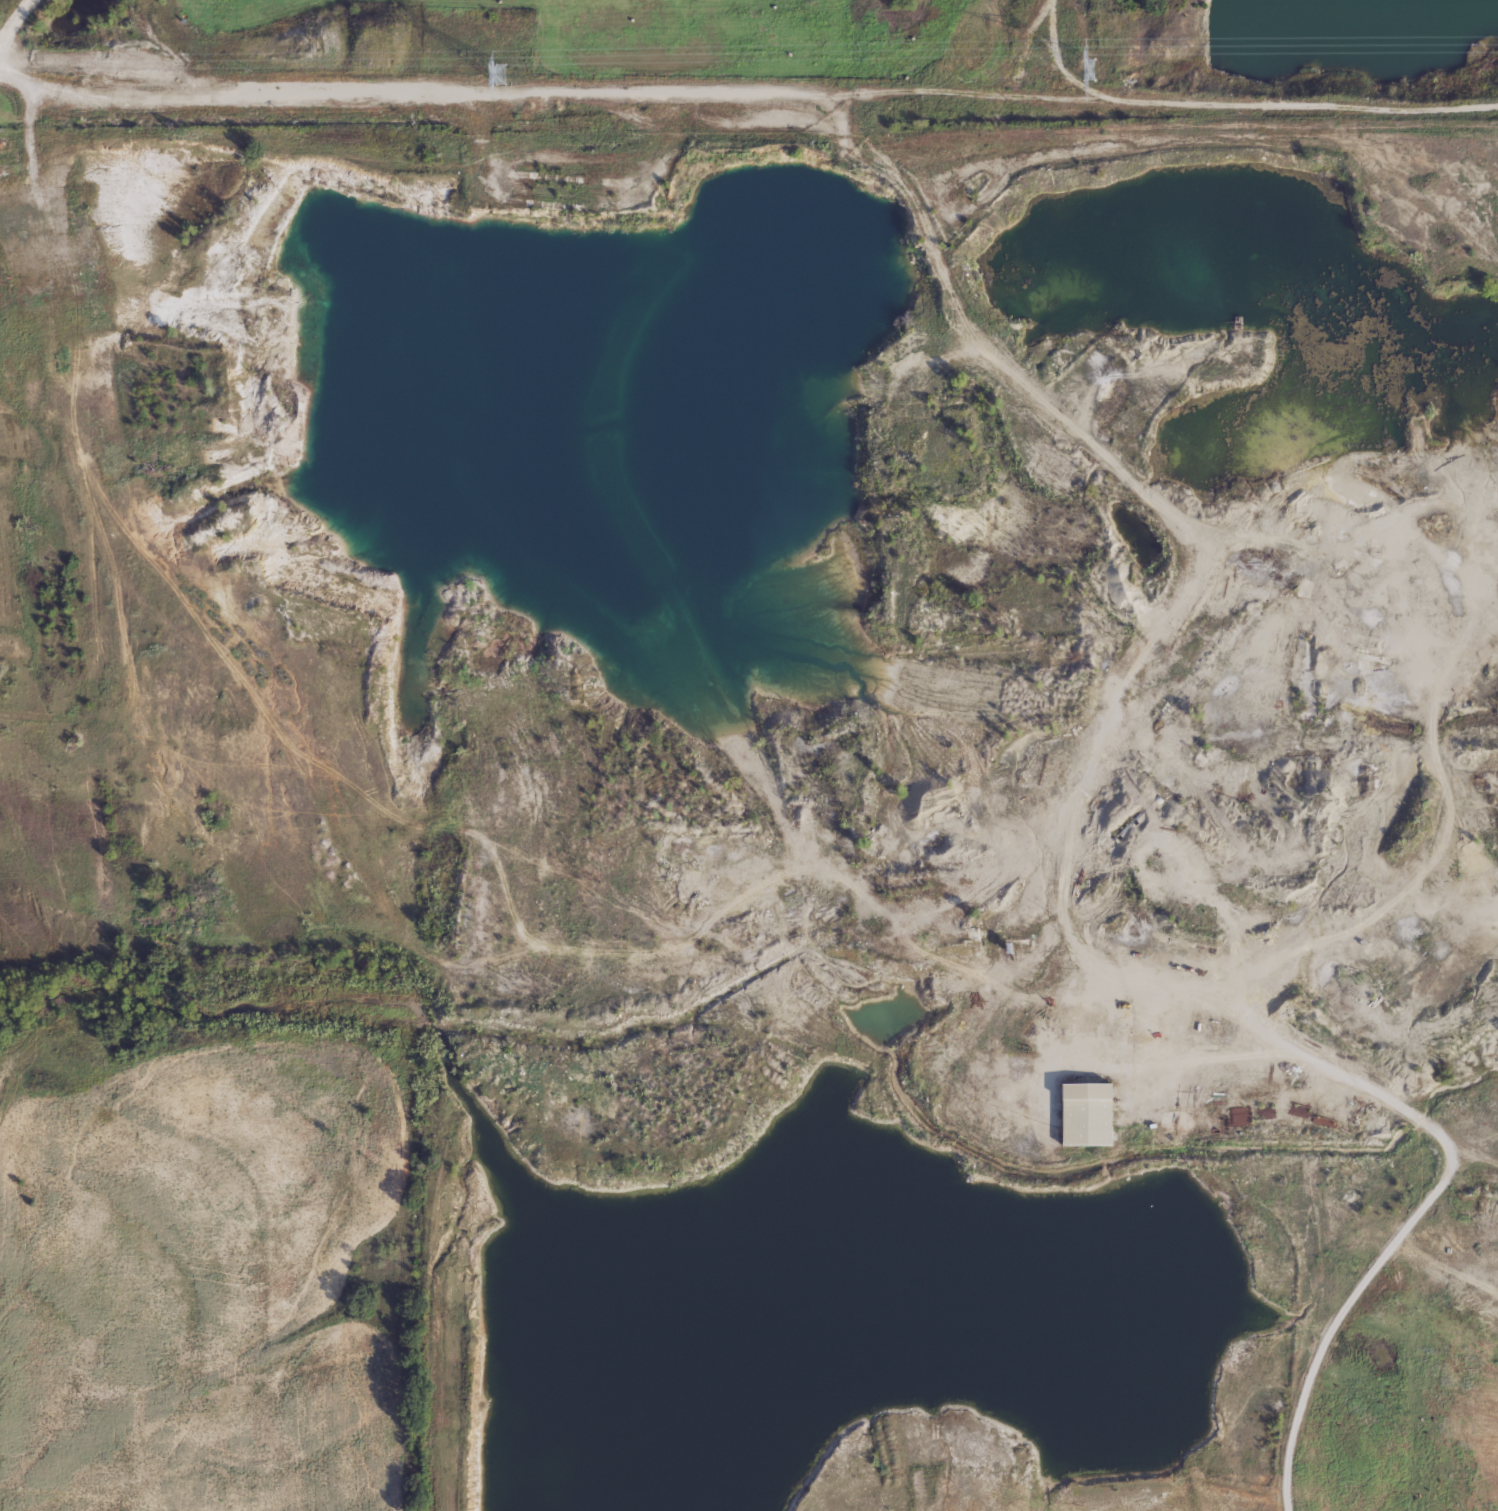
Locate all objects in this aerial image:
road: (15, 25)
power tower: (1086, 67)
power tower: (497, 72)
road: (21, 76)
road: (770, 91)
building: (73, 190)
building: (552, 190)
building: (63, 245)
road: (1293, 1040)
building: (1083, 1112)
road: (1348, 1307)

